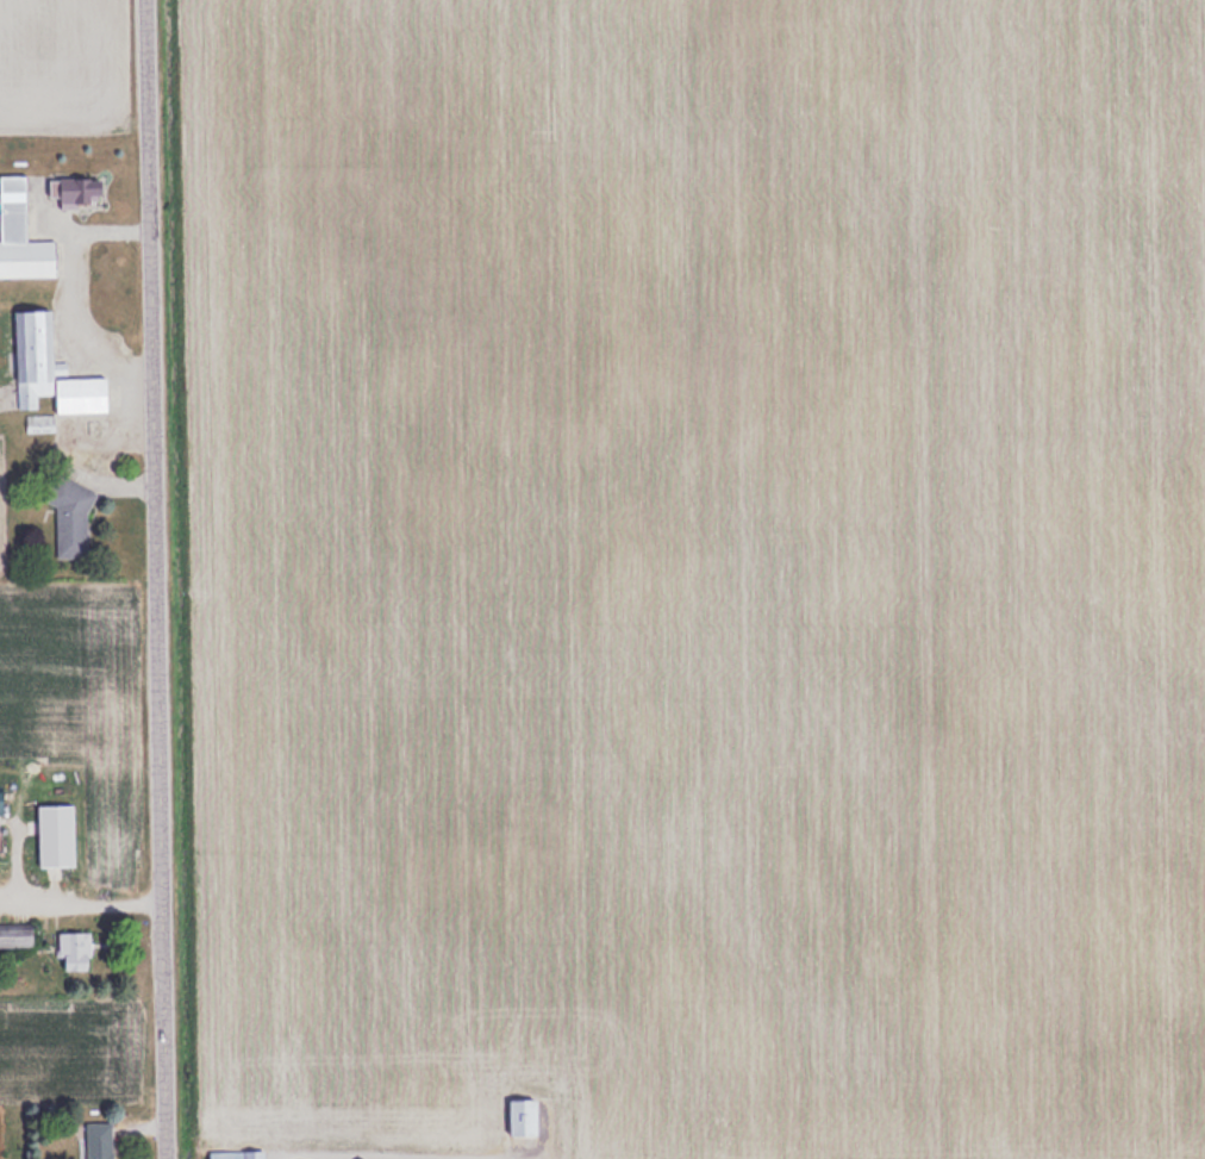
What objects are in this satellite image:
building: (75, 192)
building: (19, 236)
building: (48, 370)
building: (69, 518)
road: (158, 579)
building: (52, 835)
road: (82, 899)
building: (70, 951)
building: (519, 1116)
building: (96, 1140)
road: (388, 1153)
building: (233, 1154)

